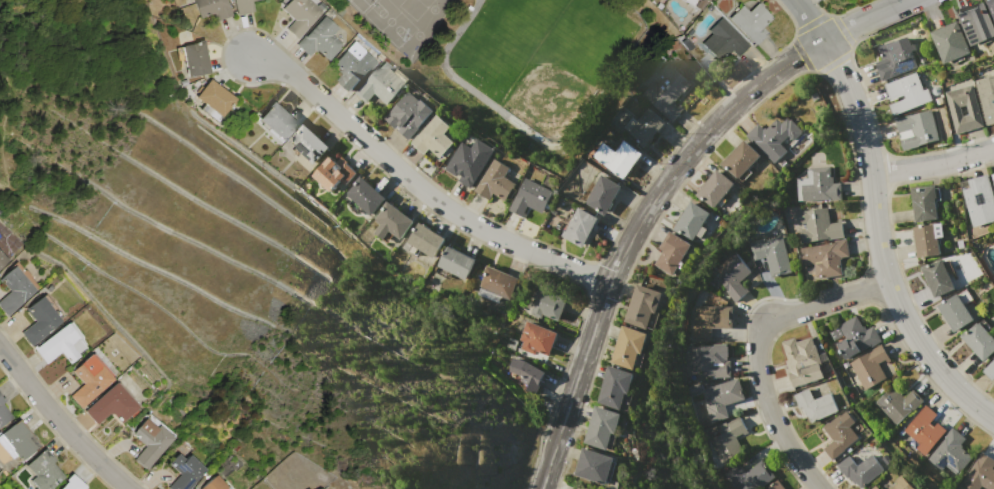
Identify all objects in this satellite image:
building: (694, 4)
building: (991, 5)
building: (244, 6)
building: (212, 8)
building: (301, 15)
road: (866, 19)
road: (809, 20)
building: (751, 22)
building: (978, 24)
building: (320, 39)
building: (951, 42)
building: (724, 43)
building: (687, 44)
building: (895, 57)
building: (195, 59)
building: (353, 65)
building: (382, 84)
building: (666, 91)
building: (906, 92)
building: (986, 96)
building: (216, 99)
building: (973, 110)
building: (408, 115)
building: (278, 120)
building: (644, 127)
building: (917, 129)
building: (433, 136)
building: (773, 137)
building: (309, 143)
building: (618, 157)
building: (741, 160)
building: (468, 164)
road: (932, 165)
building: (334, 171)
building: (993, 174)
building: (993, 177)
building: (496, 182)
building: (818, 185)
road: (417, 186)
building: (714, 189)
building: (366, 195)
building: (602, 195)
building: (530, 197)
building: (979, 199)
building: (925, 202)
building: (692, 221)
building: (392, 222)
building: (578, 226)
building: (818, 226)
road: (632, 232)
building: (927, 239)
building: (424, 240)
road: (878, 246)
building: (672, 253)
building: (771, 255)
building: (824, 258)
building: (2, 260)
building: (457, 262)
building: (732, 276)
building: (938, 278)
building: (498, 282)
building: (14, 291)
building: (547, 304)
building: (644, 307)
building: (956, 310)
building: (709, 320)
building: (40, 322)
building: (854, 336)
building: (537, 337)
building: (979, 340)
building: (59, 345)
building: (629, 346)
road: (757, 349)
building: (708, 360)
building: (803, 361)
building: (869, 367)
building: (990, 370)
building: (527, 374)
building: (89, 381)
building: (615, 387)
building: (722, 398)
building: (898, 403)
building: (815, 405)
building: (111, 406)
building: (4, 414)
road: (64, 420)
building: (601, 427)
building: (924, 430)
building: (839, 433)
building: (727, 440)
building: (20, 441)
building: (151, 441)
building: (950, 452)
building: (596, 467)
building: (860, 470)
building: (44, 471)
building: (186, 472)
building: (980, 473)
building: (749, 476)
building: (72, 483)
building: (214, 484)
building: (901, 484)
building: (776, 485)
building: (875, 487)

